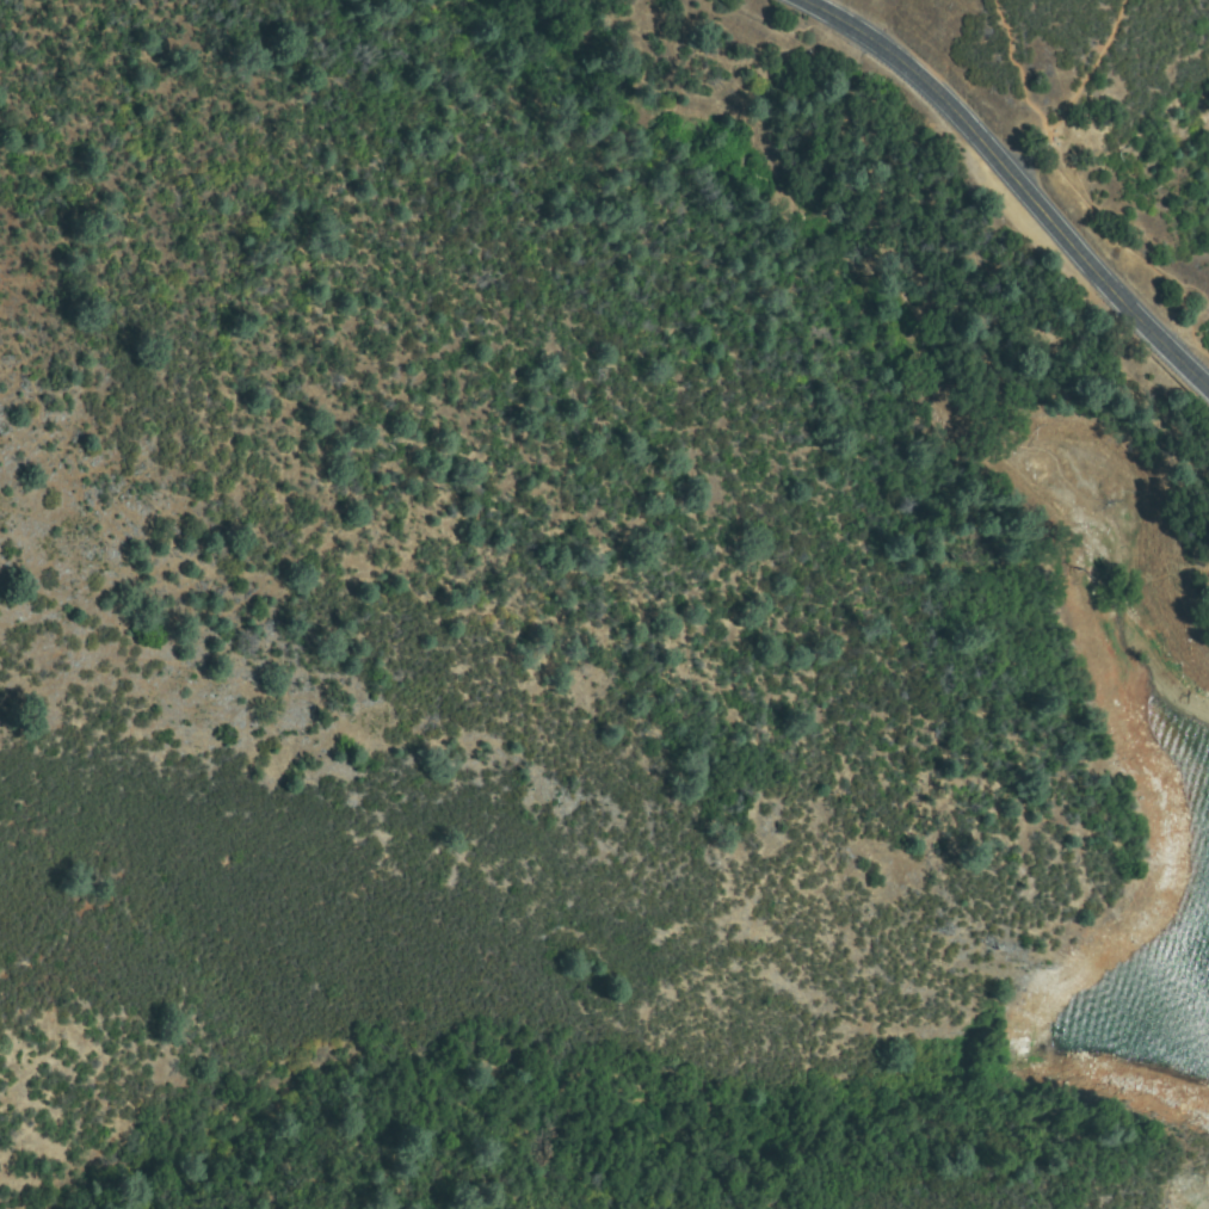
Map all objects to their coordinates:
road: (1069, 91)
road: (1014, 180)

